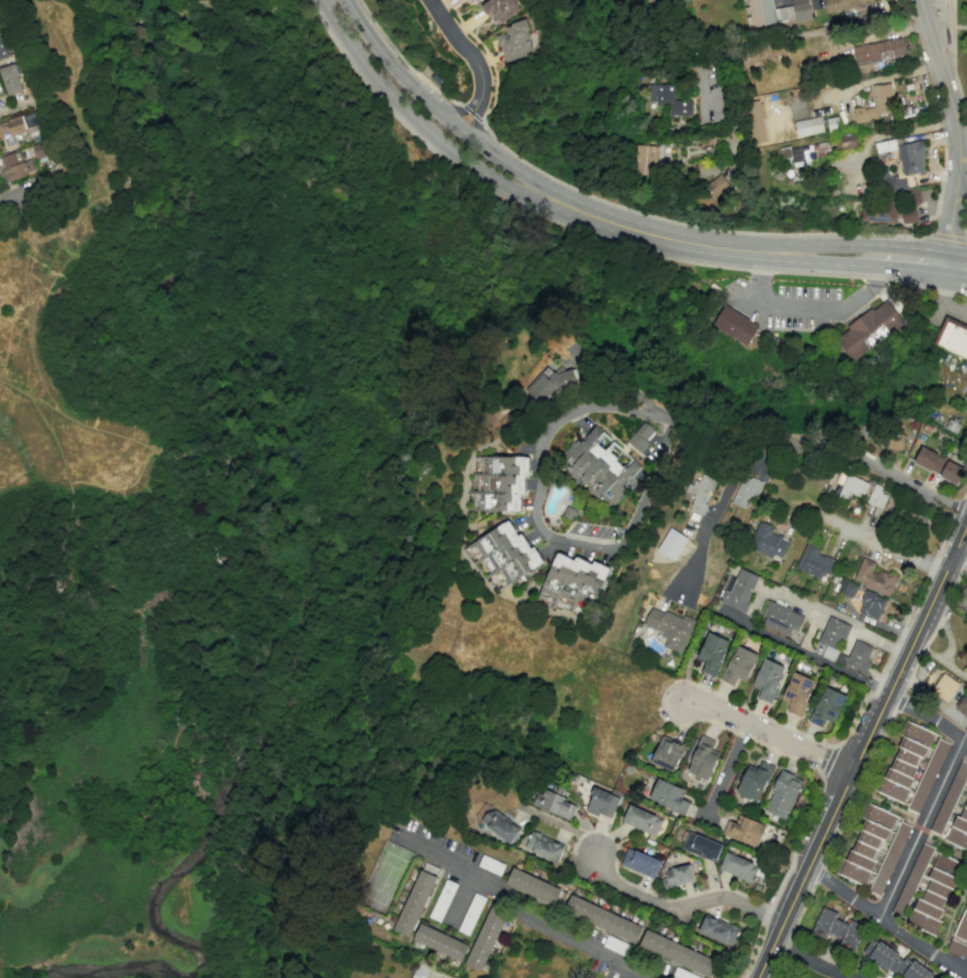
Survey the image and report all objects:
building: (463, 0)
building: (662, 0)
building: (845, 4)
building: (499, 9)
building: (801, 10)
building: (766, 13)
road: (790, 36)
building: (515, 41)
road: (945, 44)
road: (463, 46)
building: (2, 49)
building: (878, 51)
road: (402, 59)
road: (952, 60)
building: (10, 79)
building: (669, 99)
building: (877, 103)
road: (459, 108)
road: (440, 112)
road: (470, 112)
road: (473, 119)
building: (756, 121)
road: (423, 123)
building: (808, 126)
road: (956, 128)
building: (14, 129)
building: (848, 140)
building: (806, 153)
building: (911, 158)
building: (646, 160)
building: (15, 165)
building: (900, 189)
building: (714, 191)
road: (960, 199)
road: (12, 206)
building: (878, 212)
building: (908, 215)
road: (963, 220)
road: (740, 232)
road: (655, 235)
road: (946, 235)
road: (591, 236)
road: (818, 245)
road: (909, 258)
road: (818, 262)
road: (954, 263)
road: (757, 264)
road: (870, 289)
road: (942, 296)
parking lot: (784, 305)
road: (788, 309)
parking lot: (958, 312)
parking lot: (945, 317)
building: (734, 325)
building: (870, 329)
building: (952, 338)
building: (549, 382)
road: (617, 384)
building: (965, 394)
road: (655, 413)
building: (640, 436)
park: (777, 436)
road: (818, 446)
road: (189, 455)
building: (598, 465)
building: (938, 465)
building: (498, 480)
building: (745, 490)
building: (862, 490)
road: (965, 490)
road: (140, 501)
road: (956, 509)
building: (569, 512)
road: (717, 516)
road: (549, 534)
building: (767, 541)
road: (876, 542)
building: (671, 543)
building: (502, 554)
river: (331, 559)
building: (813, 561)
road: (959, 561)
building: (873, 577)
building: (569, 583)
building: (846, 588)
building: (738, 590)
building: (962, 598)
building: (871, 605)
road: (752, 607)
building: (780, 618)
building: (669, 628)
road: (810, 630)
building: (832, 637)
road: (898, 639)
building: (711, 654)
building: (855, 657)
building: (738, 665)
building: (767, 679)
building: (944, 687)
building: (797, 693)
building: (826, 706)
building: (962, 706)
road: (753, 712)
road: (930, 714)
road: (769, 737)
road: (865, 750)
building: (667, 753)
building: (702, 758)
road: (828, 761)
building: (904, 762)
road: (731, 764)
building: (928, 775)
building: (754, 780)
road: (946, 783)
road: (818, 792)
building: (783, 794)
building: (668, 796)
building: (554, 802)
building: (601, 803)
building: (641, 820)
building: (499, 825)
building: (958, 828)
building: (744, 830)
building: (866, 844)
building: (543, 846)
building: (701, 846)
building: (889, 858)
building: (640, 862)
building: (738, 867)
building: (677, 875)
road: (902, 877)
building: (912, 879)
building: (532, 886)
building: (934, 894)
building: (416, 899)
road: (677, 909)
building: (602, 918)
road: (887, 925)
building: (962, 926)
building: (837, 929)
building: (717, 930)
road: (555, 933)
building: (485, 937)
building: (439, 942)
building: (957, 949)
building: (676, 953)
building: (893, 960)
road: (811, 963)

